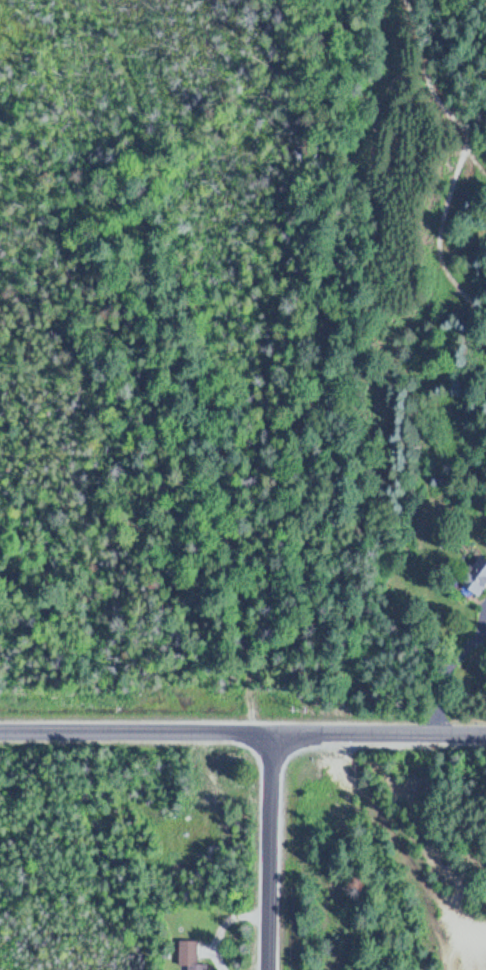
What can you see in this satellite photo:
building: (472, 577)
road: (243, 733)
road: (270, 851)
building: (193, 955)

